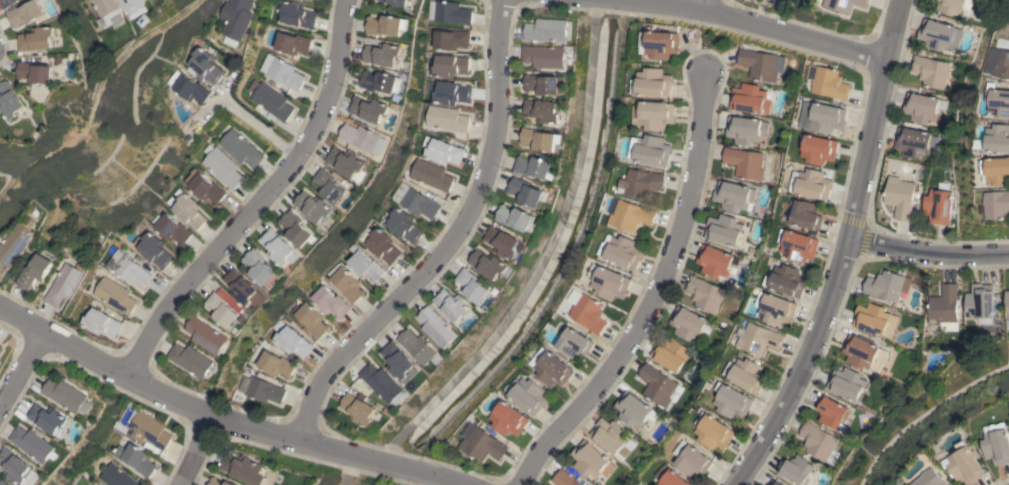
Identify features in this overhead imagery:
building: (763, 0)
building: (397, 2)
building: (7, 3)
road: (619, 3)
road: (700, 4)
building: (844, 5)
building: (953, 6)
building: (133, 7)
building: (106, 11)
building: (449, 12)
building: (26, 13)
building: (294, 15)
building: (235, 17)
building: (386, 25)
road: (765, 27)
building: (547, 30)
building: (939, 35)
building: (38, 39)
building: (451, 39)
building: (292, 43)
building: (660, 44)
building: (382, 54)
building: (545, 56)
building: (998, 63)
building: (758, 64)
building: (450, 65)
building: (203, 66)
building: (281, 71)
building: (931, 71)
building: (37, 72)
building: (380, 81)
building: (828, 82)
building: (652, 83)
building: (545, 84)
building: (187, 87)
building: (449, 92)
building: (751, 98)
building: (12, 100)
building: (270, 100)
building: (999, 102)
building: (923, 107)
building: (369, 109)
building: (542, 110)
building: (654, 114)
building: (823, 117)
power tower: (81, 118)
building: (447, 118)
road: (256, 127)
building: (746, 130)
building: (363, 138)
building: (998, 138)
building: (541, 139)
building: (914, 142)
building: (240, 149)
building: (819, 149)
building: (651, 150)
building: (442, 151)
building: (347, 163)
building: (745, 163)
building: (533, 166)
building: (223, 167)
building: (996, 171)
building: (431, 175)
building: (642, 183)
building: (811, 183)
building: (329, 186)
building: (204, 187)
building: (526, 191)
building: (734, 196)
building: (899, 197)
road: (257, 200)
building: (415, 201)
building: (997, 204)
building: (938, 206)
building: (314, 207)
building: (187, 210)
building: (632, 215)
building: (806, 215)
building: (515, 217)
building: (402, 224)
building: (296, 228)
building: (172, 229)
building: (724, 229)
road: (448, 240)
building: (14, 242)
building: (504, 242)
building: (382, 246)
building: (799, 246)
building: (279, 247)
building: (152, 249)
building: (622, 251)
road: (845, 251)
road: (928, 257)
building: (715, 261)
building: (365, 264)
building: (489, 264)
building: (127, 268)
building: (261, 269)
building: (34, 271)
building: (788, 280)
building: (609, 282)
building: (63, 284)
building: (347, 285)
building: (472, 285)
building: (241, 286)
building: (884, 286)
building: (704, 294)
building: (114, 295)
road: (652, 296)
building: (1007, 301)
building: (330, 302)
building: (980, 303)
building: (943, 304)
building: (453, 305)
building: (226, 308)
building: (776, 308)
building: (590, 313)
building: (872, 318)
building: (312, 321)
building: (101, 322)
building: (689, 323)
building: (437, 327)
building: (207, 335)
building: (759, 339)
building: (293, 342)
building: (575, 342)
building: (1, 346)
building: (418, 346)
building: (863, 353)
building: (672, 355)
building: (191, 359)
building: (399, 362)
building: (277, 364)
building: (553, 369)
road: (19, 371)
building: (748, 375)
building: (846, 383)
building: (383, 384)
building: (659, 386)
building: (263, 389)
building: (67, 396)
building: (529, 396)
road: (169, 399)
building: (732, 401)
building: (633, 409)
building: (359, 410)
building: (831, 411)
building: (48, 418)
building: (509, 419)
building: (148, 430)
building: (713, 431)
building: (611, 436)
building: (481, 443)
building: (818, 443)
building: (998, 443)
building: (34, 444)
road: (192, 451)
building: (136, 459)
building: (591, 459)
building: (692, 459)
road: (379, 461)
building: (967, 464)
building: (15, 465)
building: (245, 469)
building: (797, 470)
building: (116, 476)
road: (435, 477)
building: (670, 477)
building: (563, 478)
building: (932, 478)
building: (214, 479)
building: (4, 482)
building: (774, 483)

